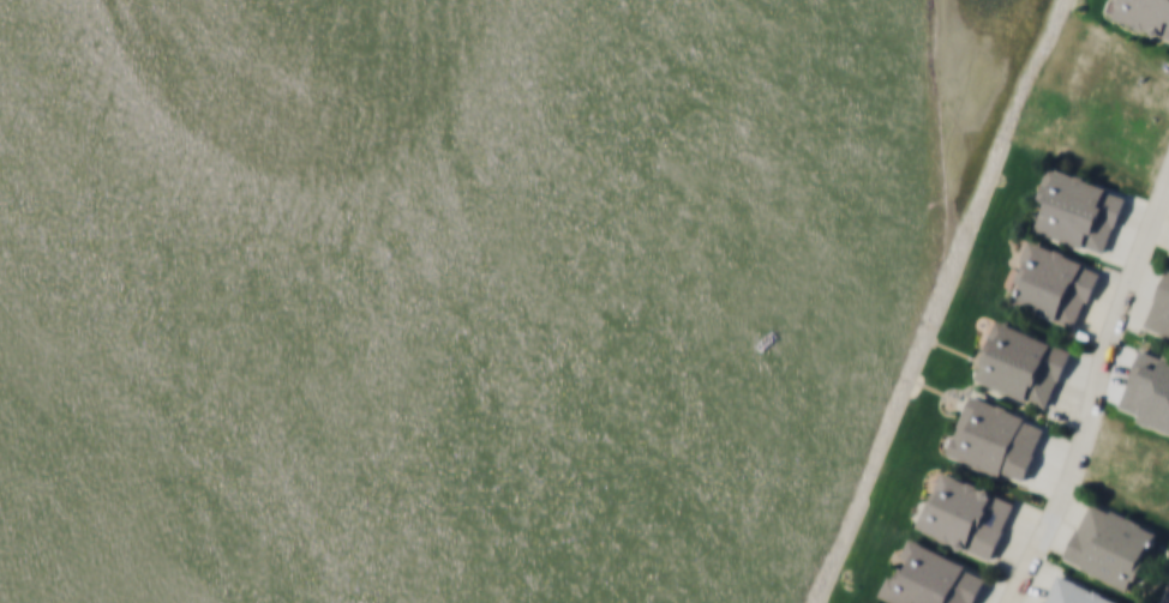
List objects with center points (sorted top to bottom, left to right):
building: (1146, 14)
road: (1167, 174)
building: (1079, 209)
building: (1056, 283)
river: (490, 301)
building: (1161, 309)
building: (1024, 362)
road: (1093, 393)
building: (997, 438)
building: (966, 513)
building: (1111, 544)
building: (933, 578)
building: (1077, 592)

